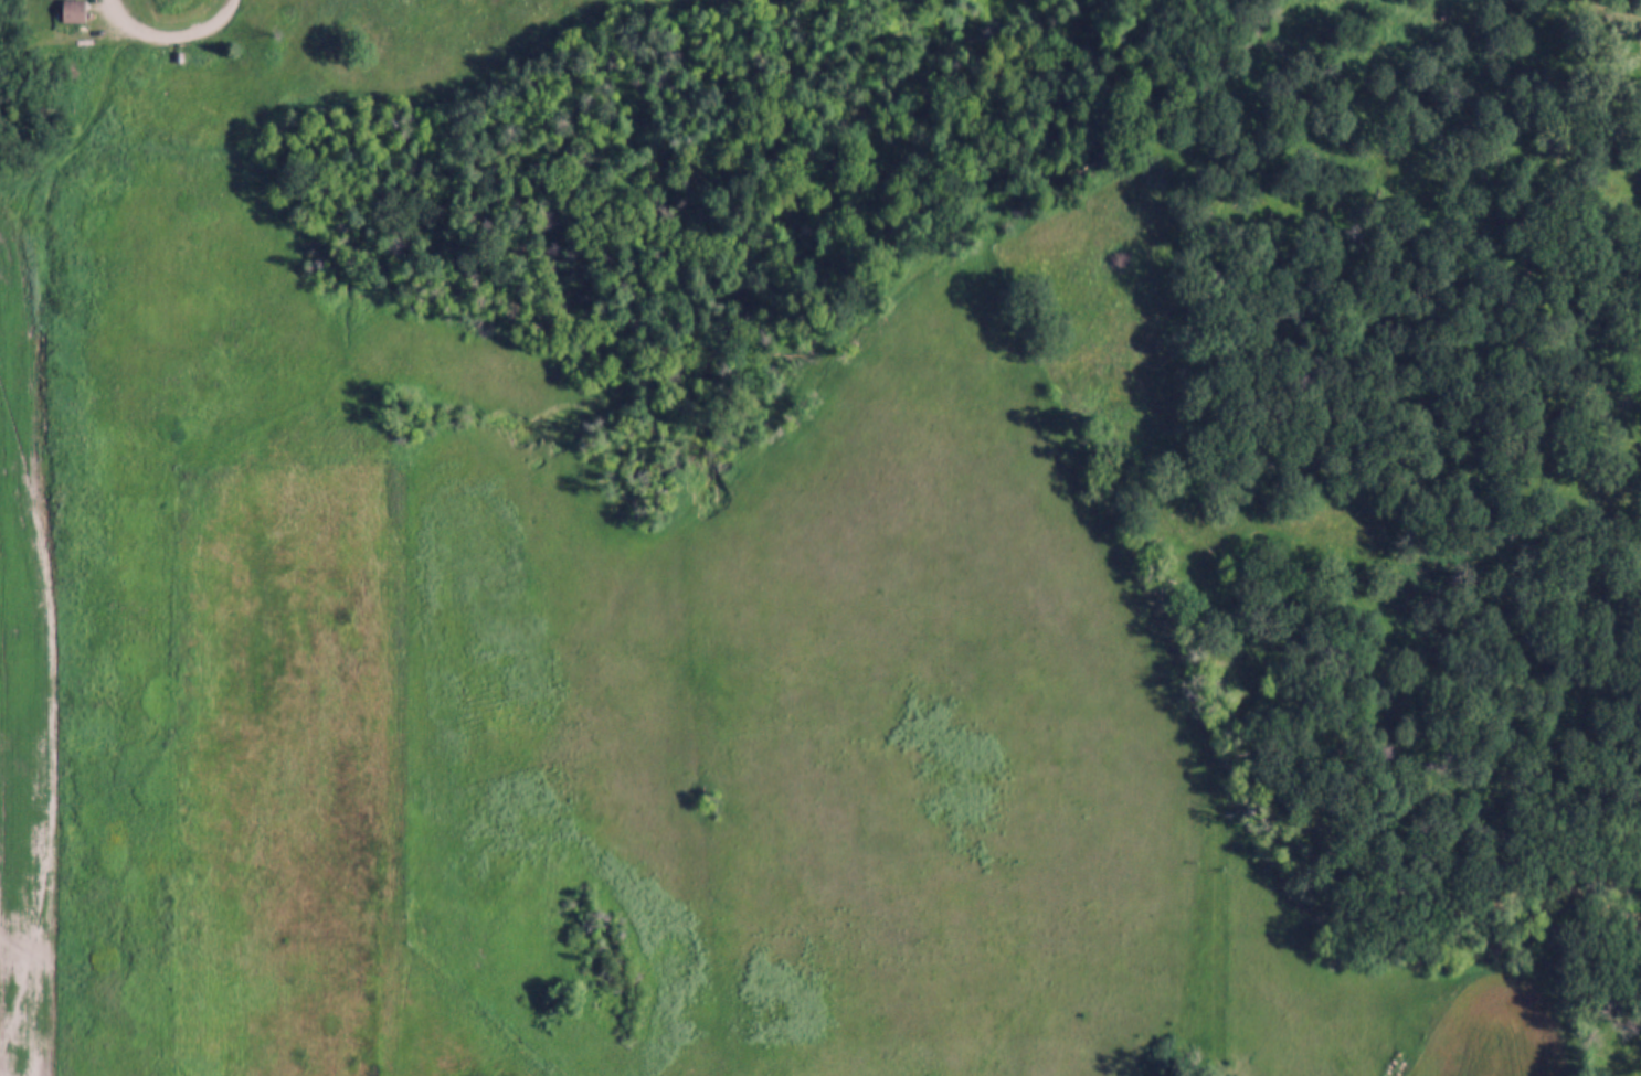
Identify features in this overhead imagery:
building: (75, 12)
road: (176, 35)
road: (98, 127)

